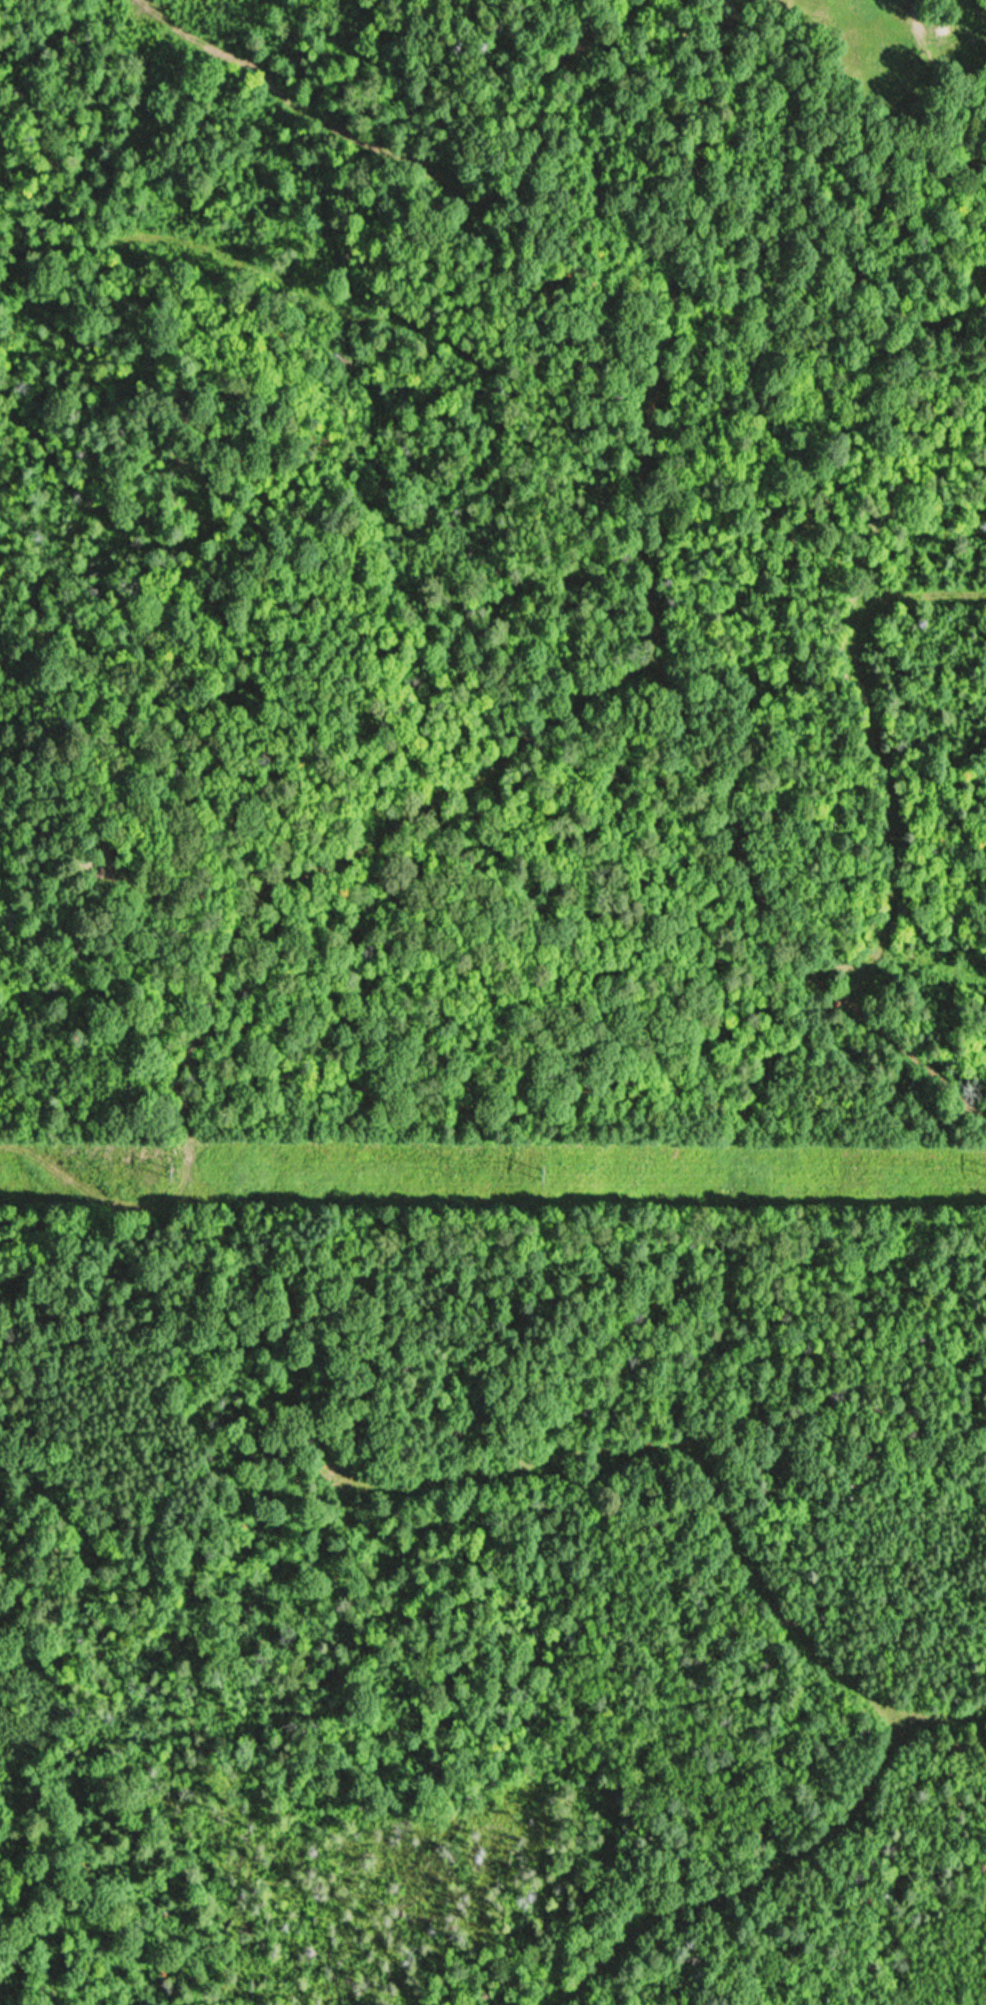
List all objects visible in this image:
power tower: (169, 1171)
power tower: (541, 1174)

